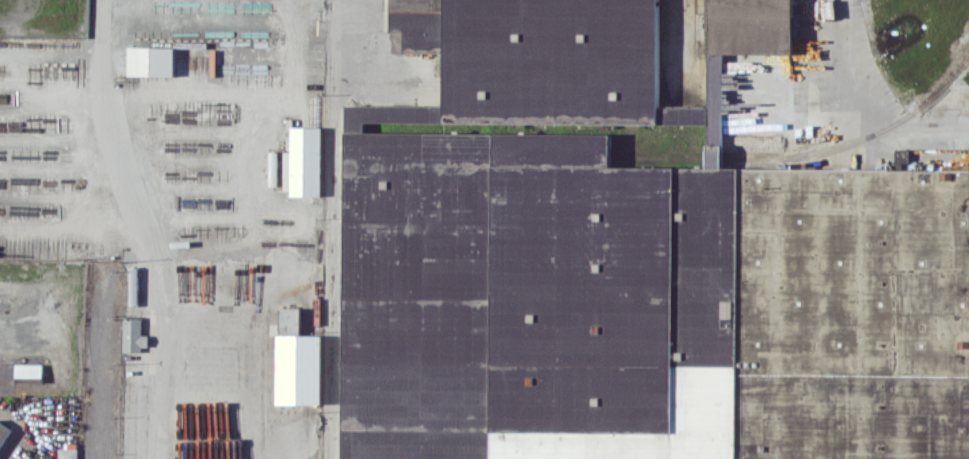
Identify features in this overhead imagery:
building: (151, 61)
building: (568, 61)
road: (106, 124)
railway: (859, 139)
railway: (657, 152)
railway: (713, 155)
building: (902, 155)
railway: (730, 157)
railway: (713, 158)
railway: (656, 159)
building: (303, 161)
building: (273, 168)
road: (332, 229)
building: (645, 305)
building: (134, 334)
road: (160, 349)
building: (298, 361)
building: (29, 370)
building: (4, 432)
building: (68, 453)

